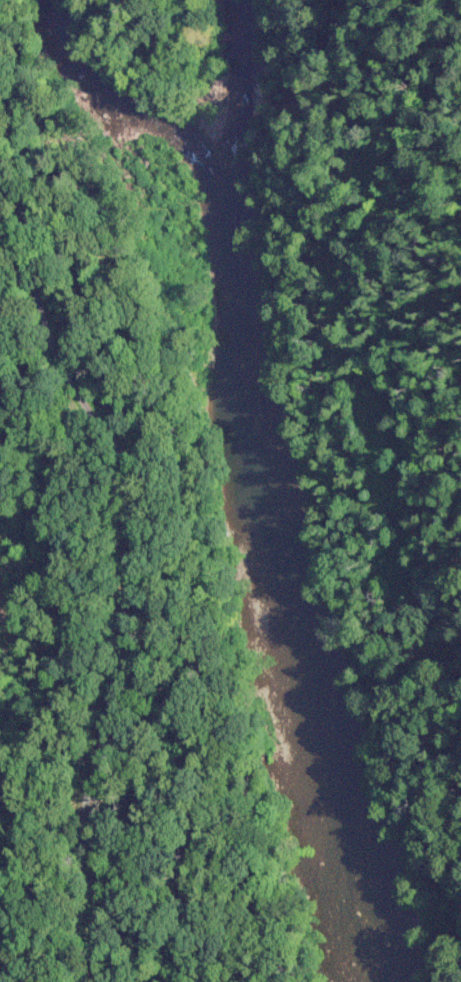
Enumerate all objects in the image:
river: (257, 496)
road: (125, 681)

